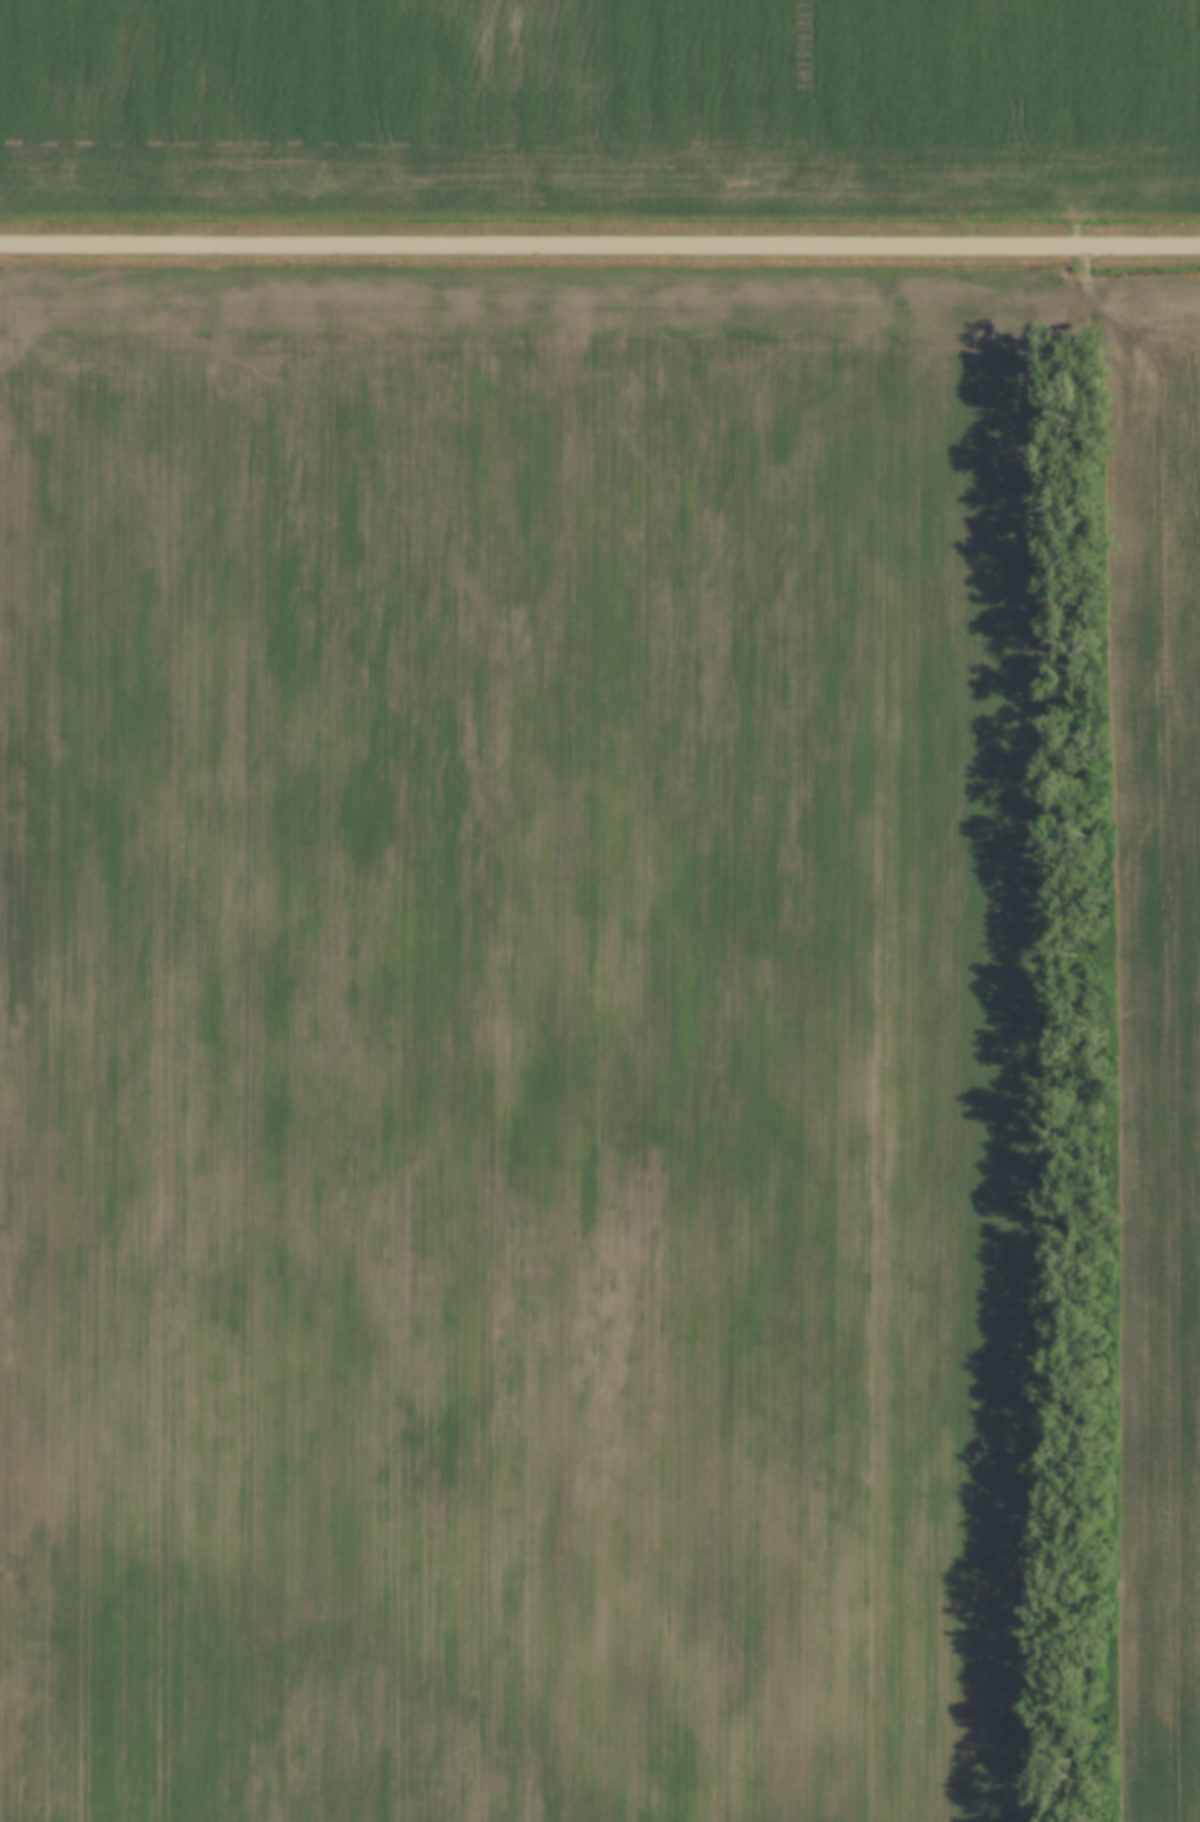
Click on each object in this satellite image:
road: (600, 248)

